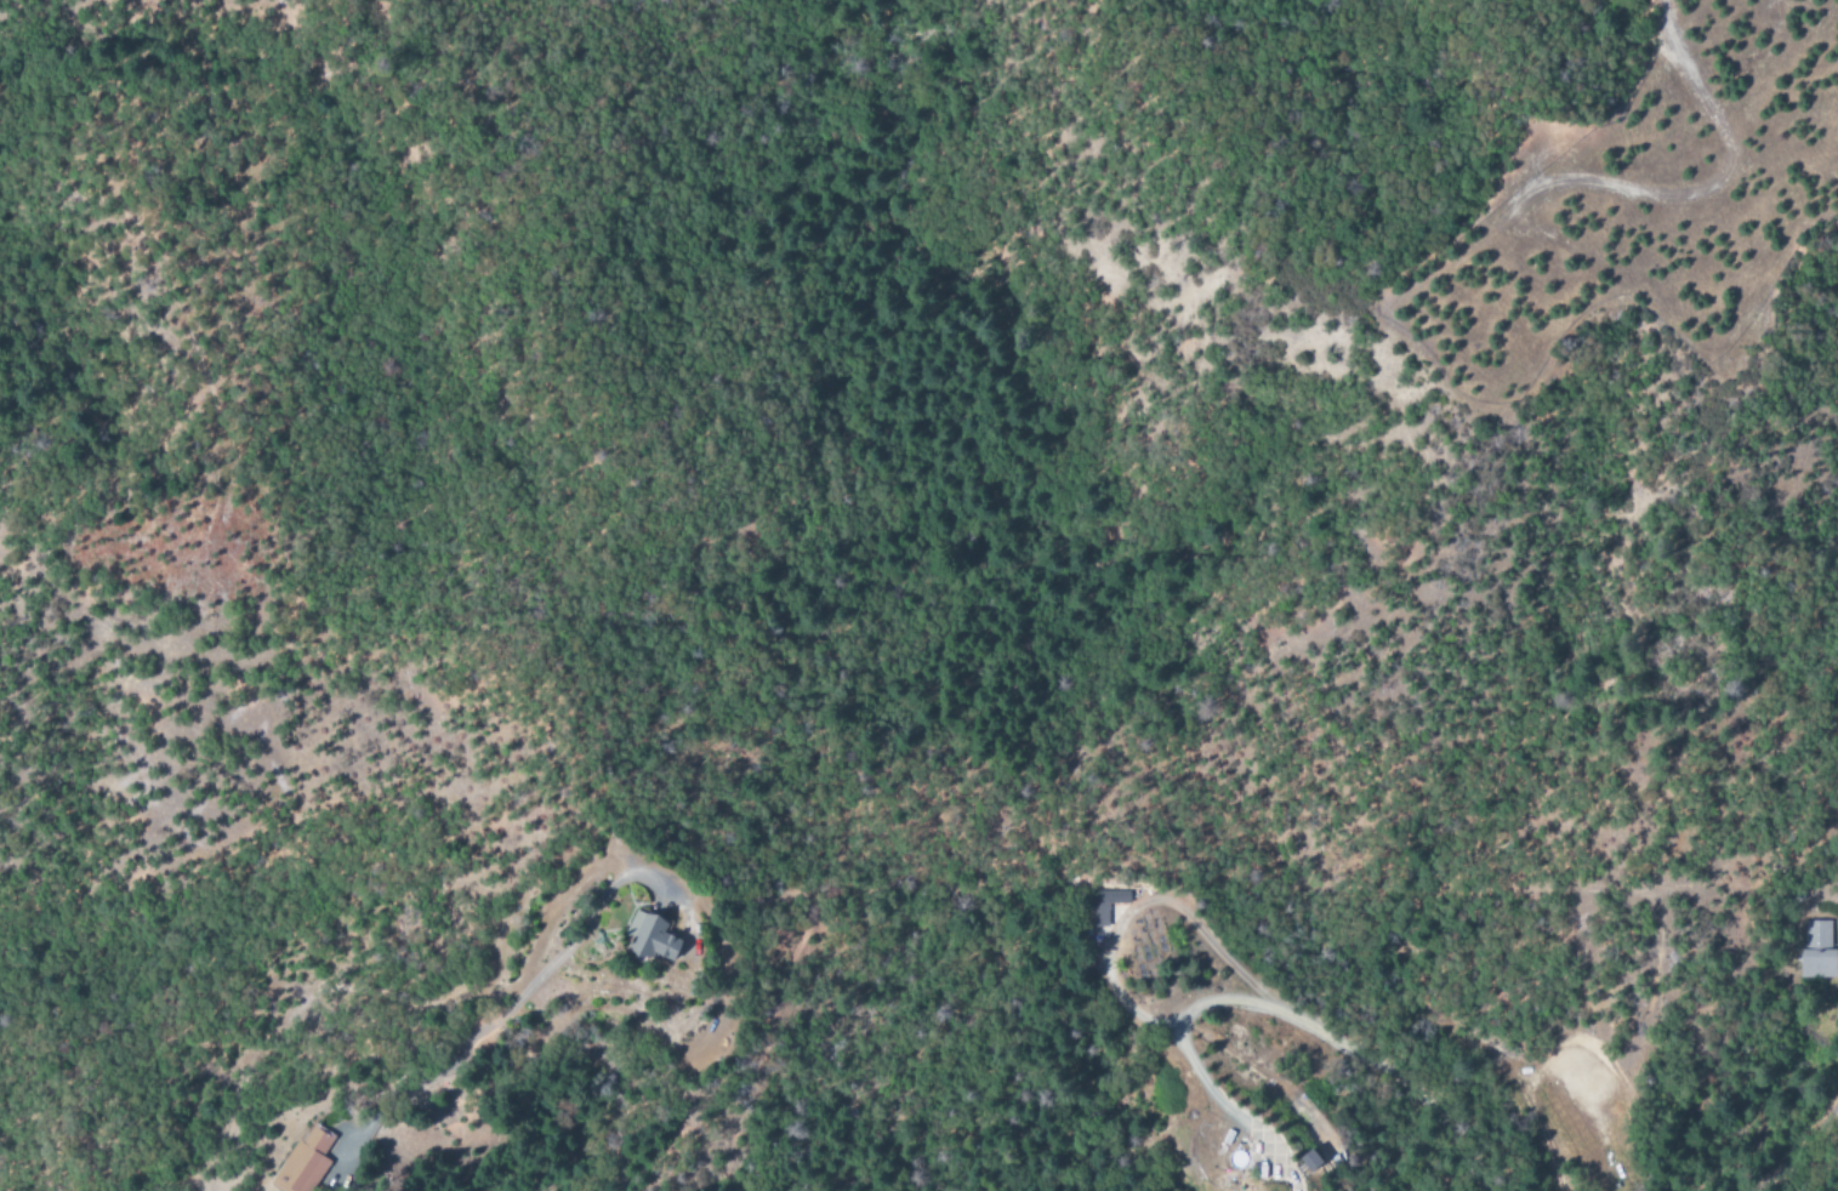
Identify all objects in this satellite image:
building: (1106, 905)
building: (685, 939)
building: (1817, 952)
building: (1309, 1159)
building: (325, 1163)

